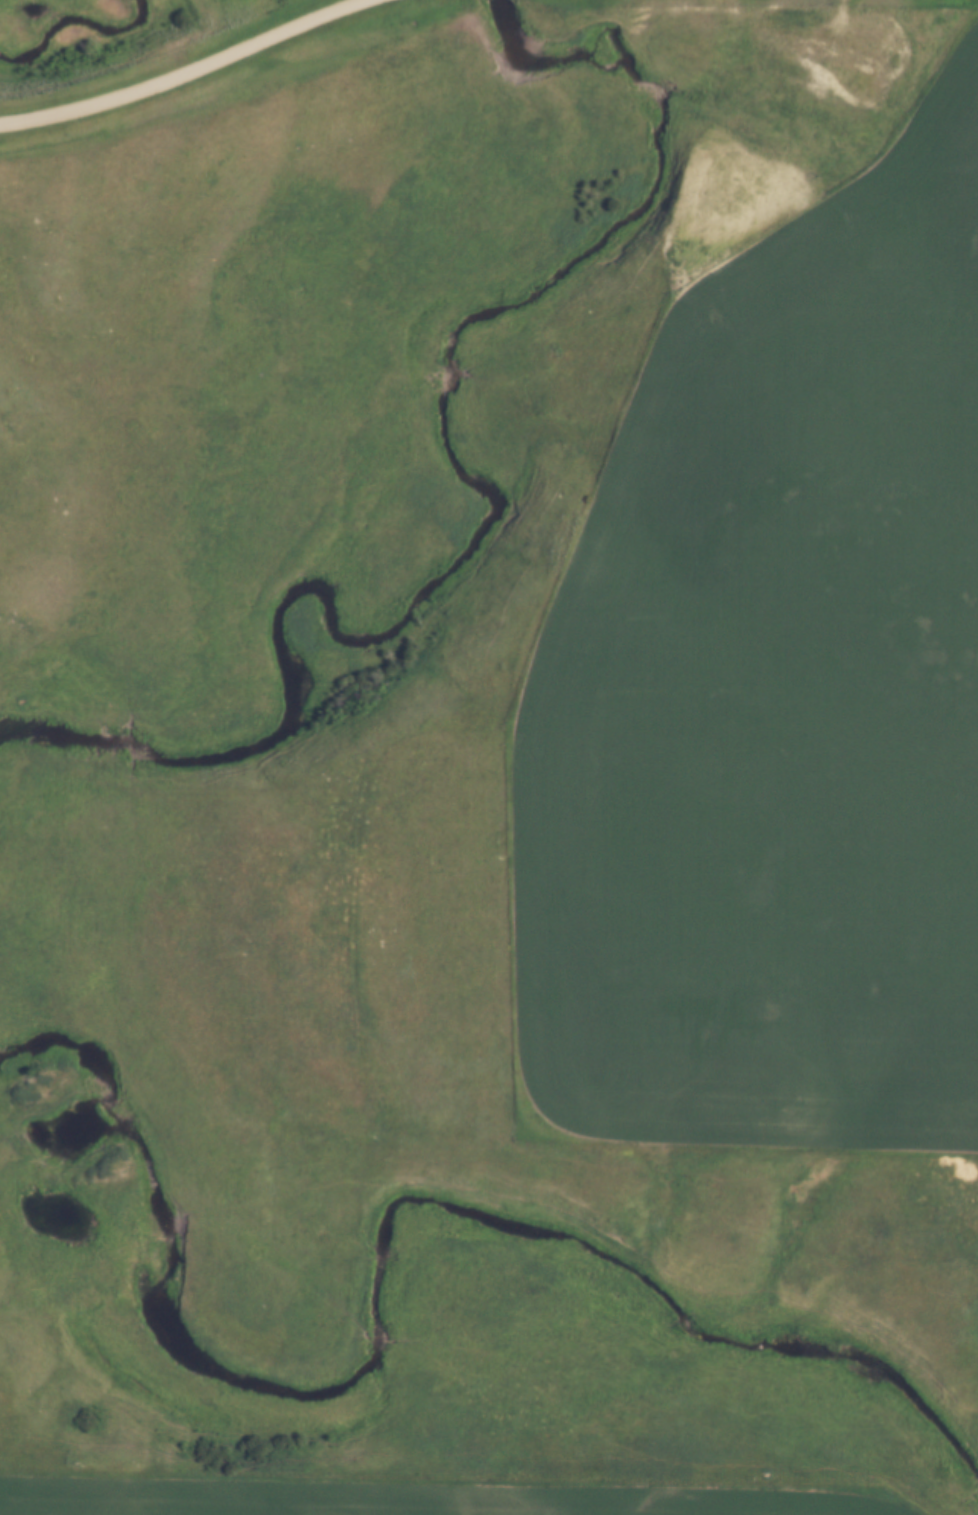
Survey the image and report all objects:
road: (186, 73)
quarry: (793, 134)

